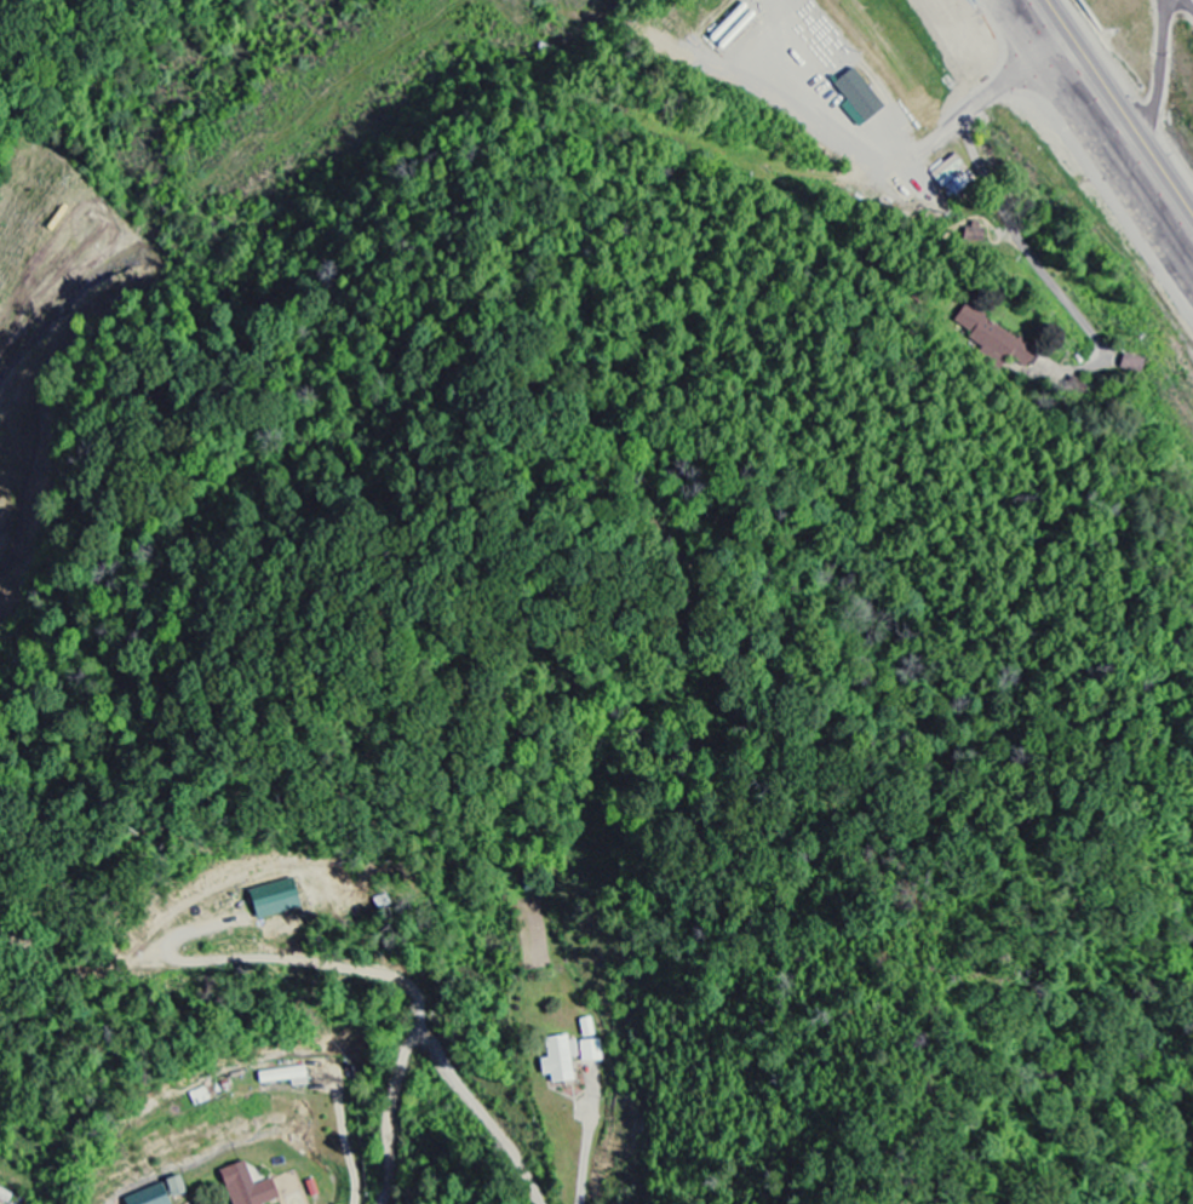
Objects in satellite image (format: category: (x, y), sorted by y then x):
building: (856, 98)
road: (1103, 127)
building: (994, 339)
building: (1132, 365)
building: (273, 900)
building: (591, 1051)
building: (557, 1061)
building: (283, 1077)
building: (245, 1187)
building: (159, 1193)
building: (5, 1197)

